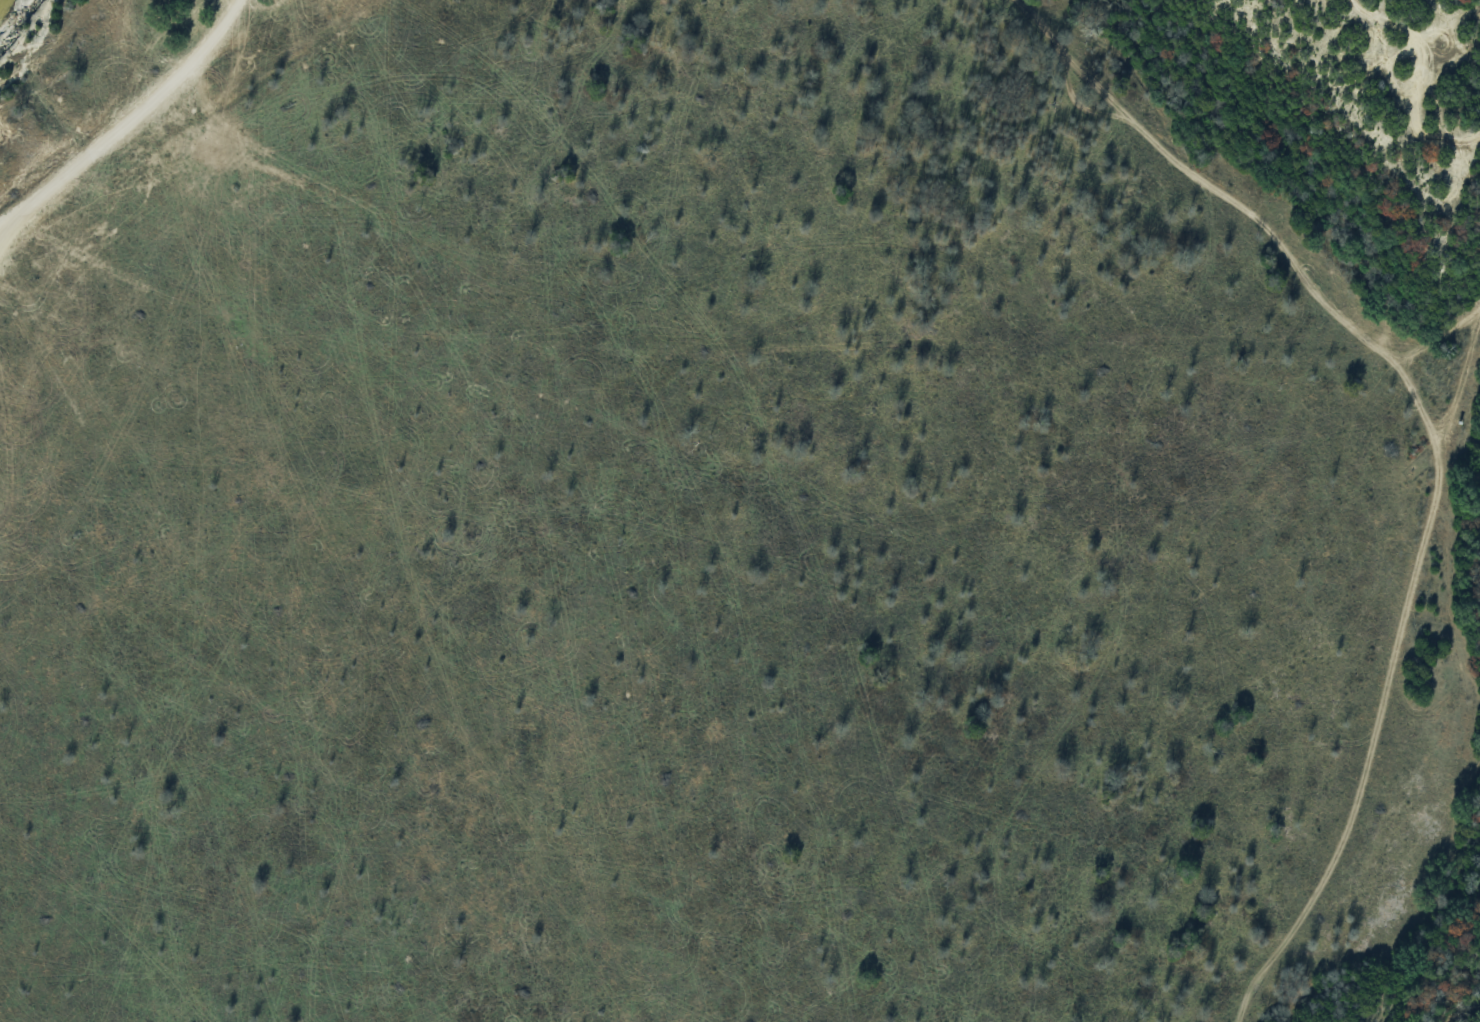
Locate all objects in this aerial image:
river: (2, 2)
road: (127, 122)

